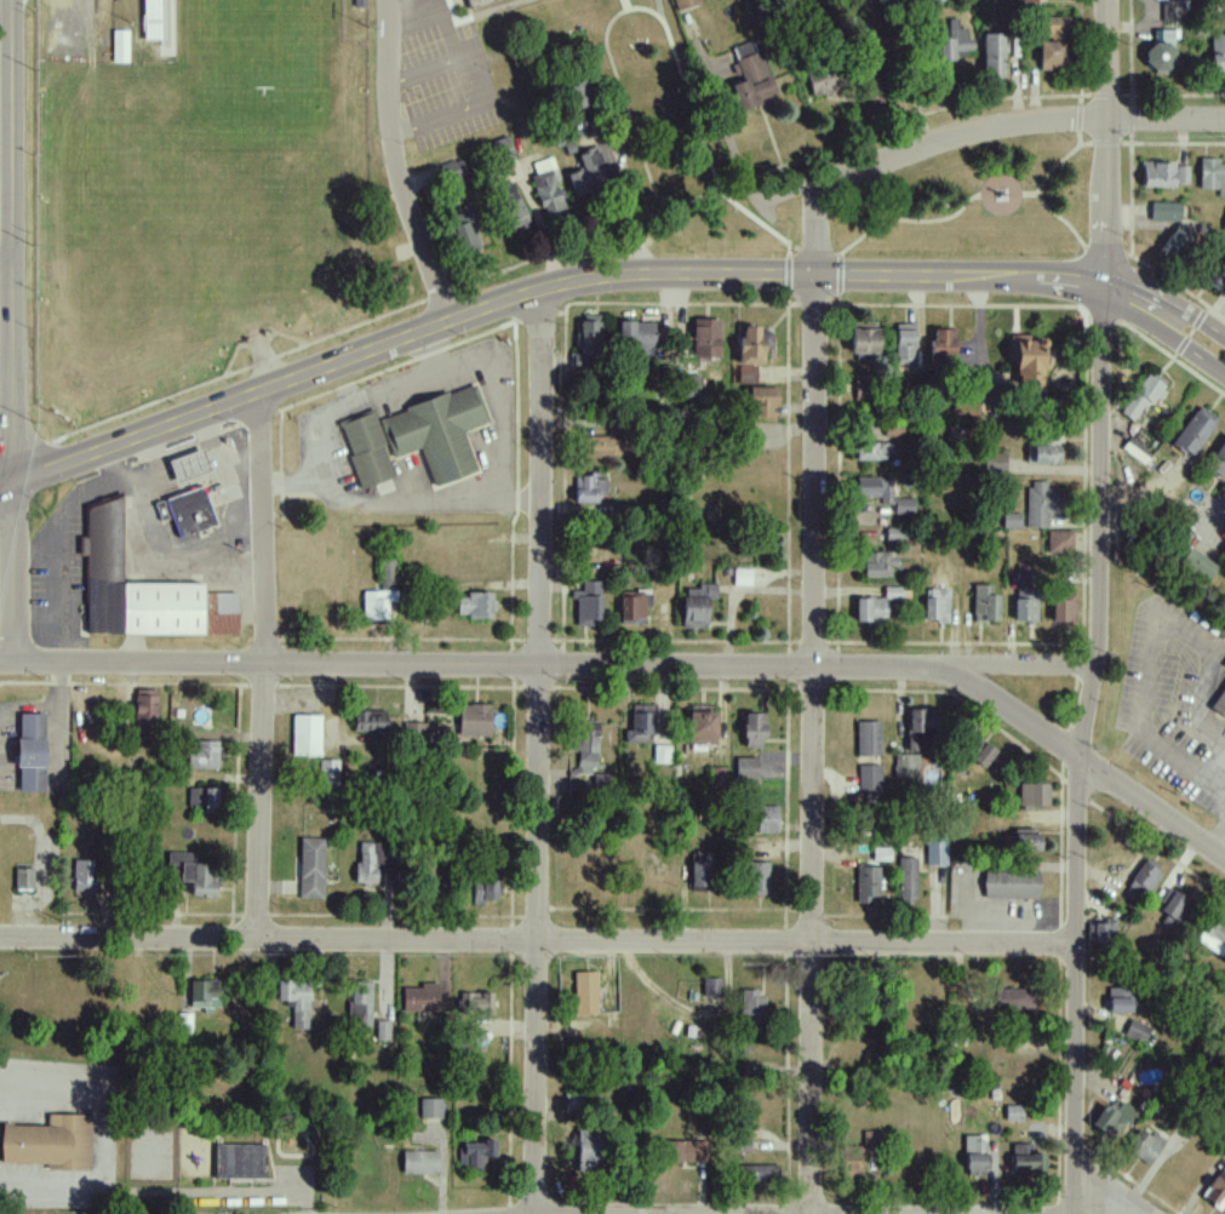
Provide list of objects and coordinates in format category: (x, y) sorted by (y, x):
building: (474, 2)
building: (683, 4)
building: (1173, 11)
building: (952, 44)
building: (119, 46)
building: (1053, 46)
park: (253, 47)
building: (1161, 50)
building: (1217, 55)
building: (991, 57)
road: (1088, 73)
building: (749, 76)
building: (819, 82)
building: (571, 96)
road: (700, 124)
road: (637, 134)
road: (958, 141)
road: (1112, 144)
road: (1177, 144)
road: (1086, 145)
building: (502, 148)
road: (396, 162)
road: (1054, 164)
building: (593, 167)
building: (454, 174)
building: (1156, 174)
building: (1181, 174)
building: (1212, 176)
road: (1002, 179)
building: (545, 187)
road: (1088, 200)
building: (509, 205)
park: (978, 205)
road: (1127, 207)
park: (208, 212)
building: (1163, 212)
road: (1052, 219)
road: (906, 222)
road: (540, 223)
building: (1224, 225)
building: (463, 233)
road: (12, 237)
road: (1106, 262)
road: (6, 269)
road: (806, 274)
road: (835, 276)
building: (396, 280)
road: (1175, 294)
road: (962, 307)
road: (1193, 317)
road: (376, 326)
road: (6, 327)
road: (1100, 333)
road: (1184, 333)
building: (635, 337)
building: (861, 337)
building: (704, 338)
building: (586, 340)
building: (904, 342)
building: (941, 342)
building: (751, 344)
road: (1190, 344)
building: (1027, 362)
road: (6, 371)
building: (746, 373)
building: (688, 385)
building: (859, 390)
building: (1141, 396)
road: (225, 399)
building: (761, 399)
road: (204, 425)
building: (435, 431)
building: (1193, 431)
road: (7, 433)
road: (148, 446)
building: (599, 446)
road: (190, 447)
building: (1044, 447)
building: (365, 448)
building: (869, 451)
building: (1135, 451)
building: (1218, 460)
building: (994, 462)
building: (195, 463)
road: (288, 481)
building: (588, 488)
building: (872, 488)
road: (522, 497)
road: (388, 503)
building: (1038, 504)
building: (901, 505)
building: (193, 508)
road: (1213, 508)
road: (62, 516)
building: (1009, 520)
building: (1058, 542)
road: (151, 543)
building: (877, 563)
building: (1195, 563)
road: (13, 568)
building: (385, 574)
building: (742, 577)
building: (588, 588)
building: (139, 589)
building: (700, 590)
building: (891, 592)
road: (47, 600)
building: (374, 603)
building: (984, 603)
building: (473, 605)
building: (934, 605)
building: (632, 607)
building: (869, 608)
building: (1061, 608)
building: (585, 609)
building: (1024, 609)
building: (692, 612)
road: (1155, 645)
road: (6, 660)
road: (263, 663)
road: (553, 663)
road: (817, 703)
building: (1219, 704)
building: (143, 705)
building: (473, 720)
building: (367, 722)
building: (639, 725)
building: (700, 725)
building: (921, 727)
building: (751, 729)
building: (416, 732)
building: (304, 734)
building: (868, 738)
building: (584, 748)
building: (977, 749)
road: (1067, 749)
road: (538, 750)
building: (28, 751)
building: (660, 754)
building: (200, 755)
building: (905, 766)
building: (745, 768)
building: (327, 773)
road: (1220, 777)
building: (869, 778)
road: (1220, 786)
building: (1034, 795)
building: (201, 797)
building: (766, 819)
building: (1024, 840)
road: (1219, 841)
building: (935, 851)
building: (366, 861)
building: (309, 867)
building: (698, 869)
building: (188, 874)
building: (82, 875)
building: (22, 878)
building: (756, 878)
building: (906, 880)
building: (1141, 880)
building: (866, 883)
building: (1009, 883)
building: (482, 891)
building: (1172, 909)
building: (1103, 930)
building: (1213, 935)
road: (1075, 939)
road: (537, 943)
building: (710, 986)
building: (584, 992)
building: (202, 993)
building: (419, 997)
building: (1013, 1000)
building: (1118, 1000)
building: (294, 1001)
building: (359, 1003)
building: (474, 1003)
building: (750, 1007)
building: (184, 1023)
building: (382, 1030)
building: (1135, 1031)
building: (429, 1109)
building: (1013, 1113)
building: (1112, 1118)
building: (739, 1140)
building: (48, 1143)
building: (1143, 1146)
building: (585, 1151)
building: (682, 1151)
building: (474, 1153)
building: (973, 1156)
building: (855, 1158)
building: (1025, 1161)
building: (239, 1162)
building: (418, 1162)
building: (755, 1173)
building: (1215, 1189)
road: (1105, 1192)

